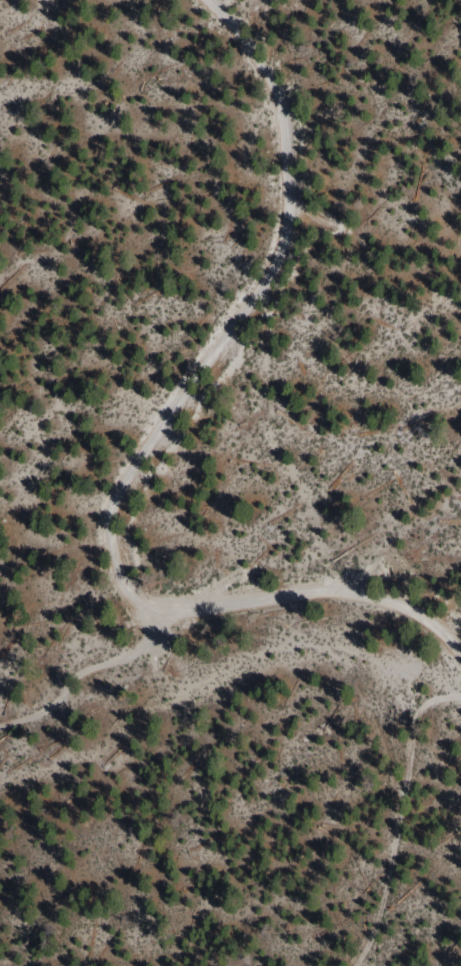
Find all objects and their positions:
road: (154, 445)
road: (88, 669)
road: (401, 825)

